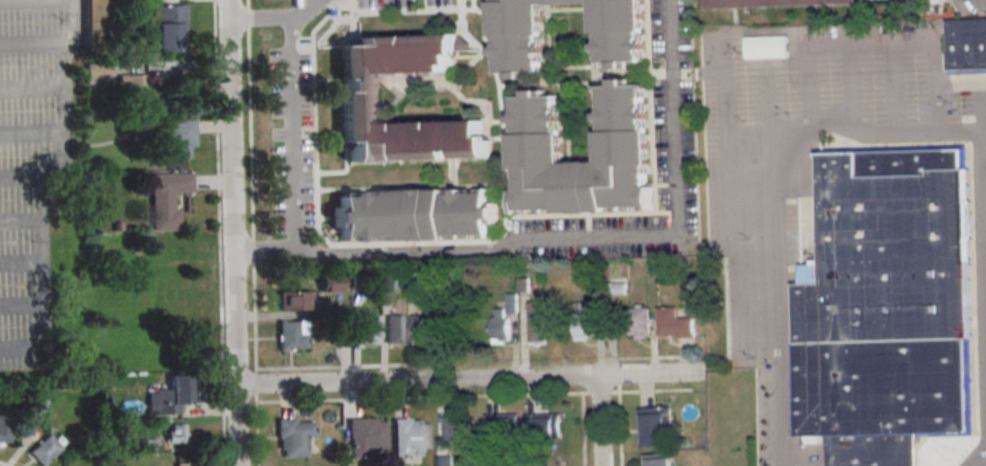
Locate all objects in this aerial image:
building: (771, 2)
road: (272, 18)
building: (94, 24)
building: (170, 28)
building: (517, 33)
road: (35, 42)
building: (967, 44)
building: (765, 46)
building: (99, 72)
road: (962, 85)
road: (35, 88)
building: (135, 89)
building: (357, 97)
road: (938, 113)
road: (672, 121)
building: (622, 129)
road: (34, 133)
road: (294, 134)
building: (176, 138)
road: (875, 141)
road: (28, 177)
road: (46, 194)
building: (167, 198)
building: (413, 214)
road: (22, 220)
building: (117, 227)
road: (233, 232)
road: (253, 232)
road: (219, 233)
road: (449, 253)
road: (23, 262)
building: (414, 280)
building: (360, 282)
building: (389, 282)
building: (331, 284)
building: (522, 285)
building: (617, 285)
road: (768, 292)
building: (294, 300)
building: (511, 303)
road: (23, 304)
building: (886, 306)
building: (586, 317)
building: (536, 321)
building: (639, 321)
building: (672, 323)
building: (368, 328)
building: (395, 328)
building: (423, 328)
building: (500, 328)
building: (341, 331)
building: (292, 334)
road: (642, 357)
road: (335, 366)
road: (464, 380)
building: (171, 395)
road: (472, 396)
building: (36, 410)
road: (597, 421)
building: (501, 424)
building: (543, 424)
building: (653, 426)
building: (5, 429)
road: (581, 429)
road: (618, 429)
building: (459, 430)
building: (175, 433)
road: (985, 434)
building: (293, 436)
building: (365, 436)
building: (410, 437)
building: (148, 445)
building: (46, 448)
building: (655, 459)
road: (980, 459)
building: (444, 461)
road: (3, 464)
building: (183, 464)

